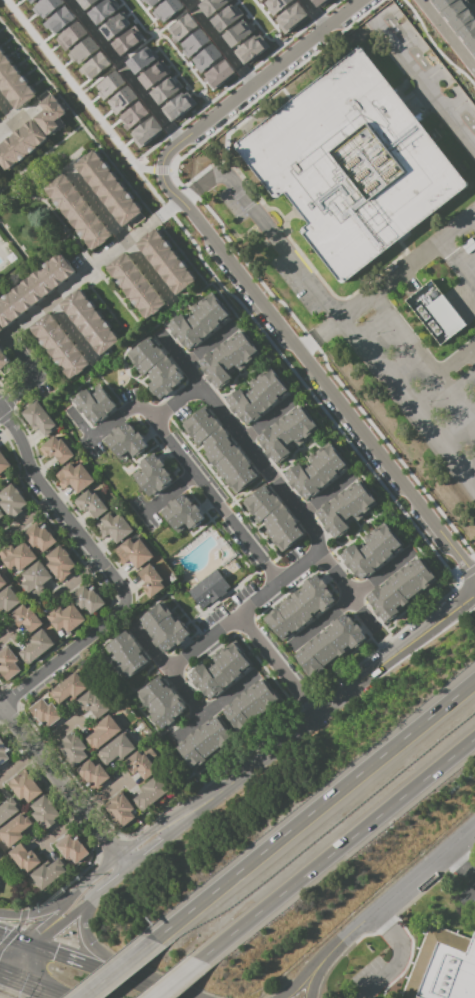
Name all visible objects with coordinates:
building: (30, 1)
building: (149, 2)
building: (318, 2)
building: (87, 4)
building: (276, 4)
building: (210, 5)
building: (45, 6)
building: (167, 9)
building: (101, 11)
road: (314, 13)
building: (225, 17)
building: (290, 17)
building: (59, 20)
building: (460, 20)
building: (114, 25)
building: (182, 26)
building: (237, 33)
building: (71, 34)
road: (446, 36)
building: (126, 41)
building: (194, 42)
road: (218, 42)
building: (250, 48)
building: (83, 50)
building: (206, 57)
building: (141, 60)
building: (94, 66)
road: (122, 71)
building: (219, 74)
road: (254, 81)
building: (14, 82)
building: (110, 84)
road: (426, 89)
building: (164, 90)
road: (78, 92)
building: (122, 99)
building: (178, 106)
road: (6, 112)
building: (134, 114)
building: (50, 115)
road: (76, 117)
road: (6, 124)
building: (145, 131)
building: (21, 145)
building: (351, 163)
building: (0, 175)
building: (108, 188)
park: (39, 198)
road: (99, 206)
building: (78, 212)
road: (474, 215)
road: (57, 220)
road: (265, 225)
road: (51, 250)
road: (29, 259)
building: (165, 260)
road: (458, 261)
road: (406, 266)
road: (149, 272)
road: (88, 281)
building: (134, 283)
building: (34, 289)
road: (115, 294)
road: (54, 300)
road: (100, 302)
building: (435, 312)
road: (164, 321)
building: (90, 322)
building: (200, 322)
road: (239, 324)
building: (0, 329)
road: (5, 330)
road: (73, 332)
road: (253, 335)
building: (59, 345)
road: (473, 352)
road: (198, 353)
road: (423, 357)
building: (3, 358)
building: (226, 359)
road: (456, 360)
road: (125, 368)
building: (157, 368)
road: (315, 374)
road: (84, 386)
road: (123, 387)
building: (258, 397)
road: (296, 400)
building: (95, 405)
road: (407, 406)
road: (120, 418)
building: (39, 419)
road: (268, 420)
building: (286, 433)
building: (126, 442)
road: (248, 444)
building: (56, 450)
building: (220, 450)
road: (298, 452)
building: (3, 464)
building: (316, 470)
road: (356, 474)
building: (154, 475)
building: (75, 477)
road: (169, 494)
road: (327, 494)
building: (13, 501)
road: (217, 503)
building: (92, 505)
building: (344, 508)
road: (60, 509)
building: (182, 514)
building: (1, 515)
building: (273, 518)
building: (116, 527)
road: (357, 536)
building: (40, 537)
building: (372, 551)
building: (136, 553)
building: (17, 556)
building: (61, 563)
road: (438, 575)
building: (36, 579)
building: (151, 581)
building: (2, 582)
building: (208, 588)
building: (402, 589)
road: (347, 591)
road: (351, 598)
building: (88, 599)
building: (8, 600)
road: (156, 602)
building: (300, 609)
road: (244, 612)
road: (187, 617)
building: (26, 618)
building: (65, 618)
building: (163, 626)
road: (5, 636)
building: (329, 645)
building: (37, 646)
building: (127, 654)
road: (67, 655)
building: (8, 664)
road: (278, 664)
building: (221, 670)
road: (172, 674)
road: (147, 679)
building: (68, 689)
road: (130, 692)
building: (159, 702)
building: (94, 703)
building: (251, 704)
road: (216, 708)
road: (1, 710)
road: (319, 711)
building: (45, 712)
building: (103, 732)
building: (205, 741)
road: (172, 743)
road: (39, 749)
building: (74, 749)
building: (116, 749)
building: (3, 753)
building: (140, 765)
building: (94, 773)
road: (353, 777)
road: (61, 783)
building: (24, 788)
building: (150, 793)
building: (120, 810)
building: (7, 811)
road: (82, 811)
building: (44, 813)
road: (370, 825)
building: (14, 830)
road: (149, 841)
building: (71, 849)
building: (24, 857)
road: (128, 857)
road: (464, 863)
building: (48, 873)
road: (111, 878)
road: (406, 882)
road: (195, 906)
road: (56, 910)
road: (33, 914)
traffic signals: (35, 928)
road: (52, 931)
road: (233, 935)
road: (20, 941)
road: (90, 947)
traffic signals: (55, 954)
road: (398, 957)
road: (89, 966)
road: (119, 967)
building: (443, 967)
road: (323, 968)
road: (308, 970)
road: (2, 973)
road: (15, 979)
road: (179, 979)
road: (44, 991)
road: (154, 991)

